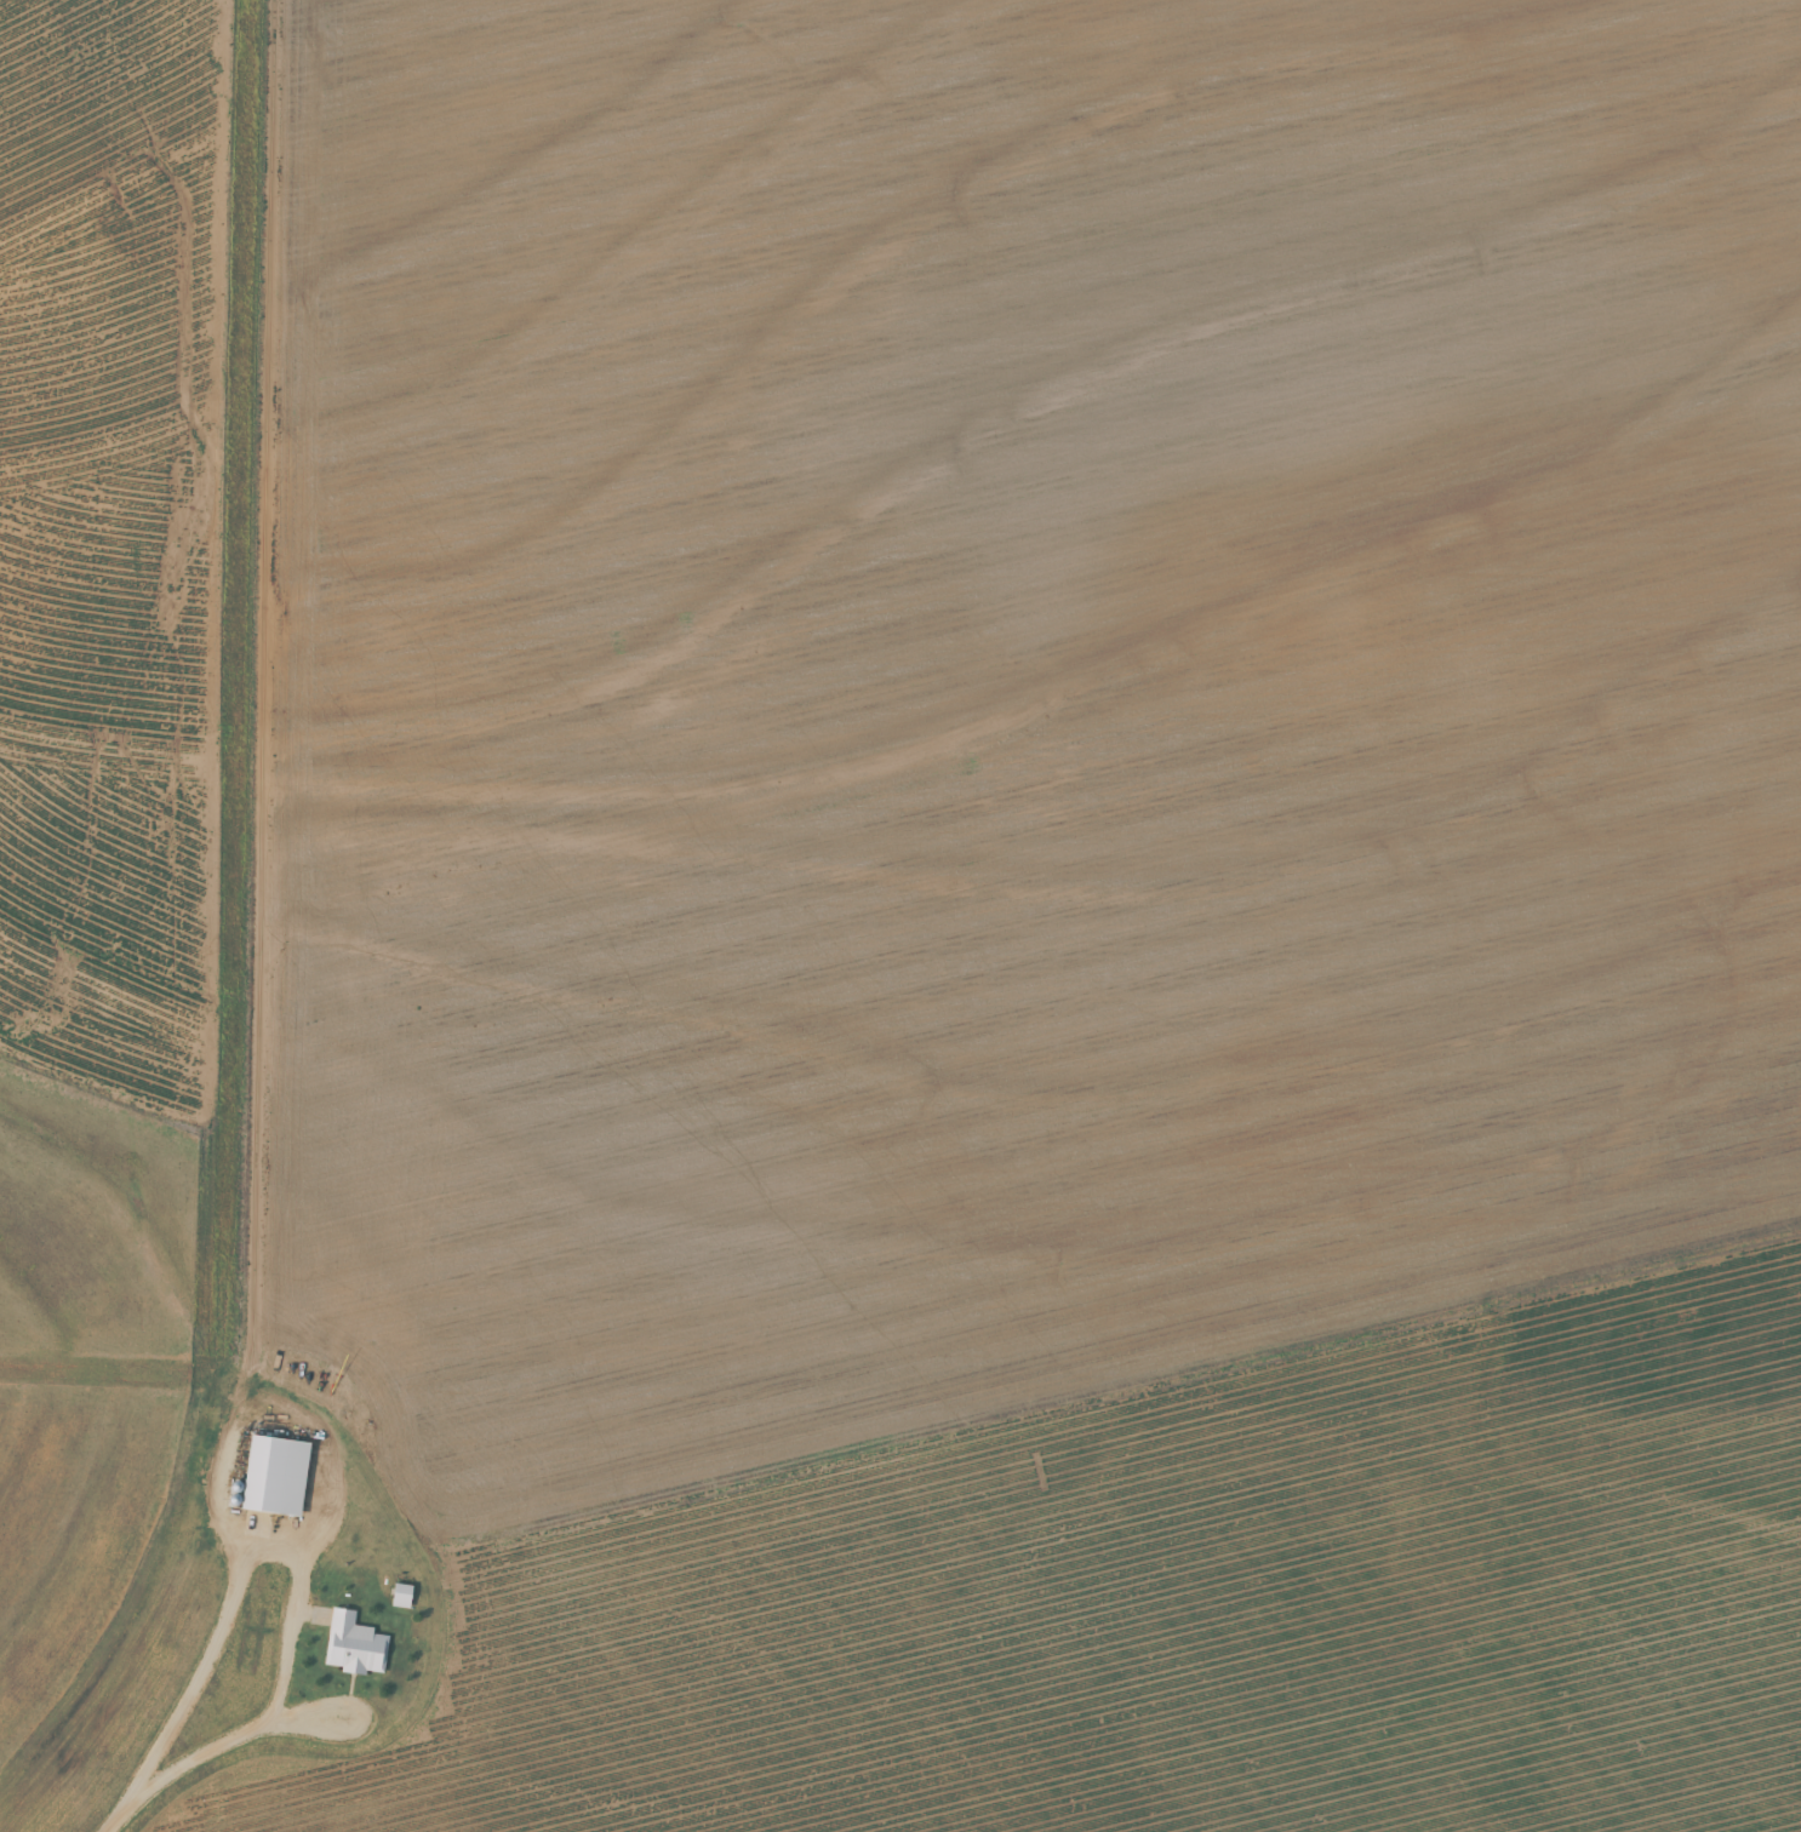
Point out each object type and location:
building: (268, 1484)
building: (350, 1654)

